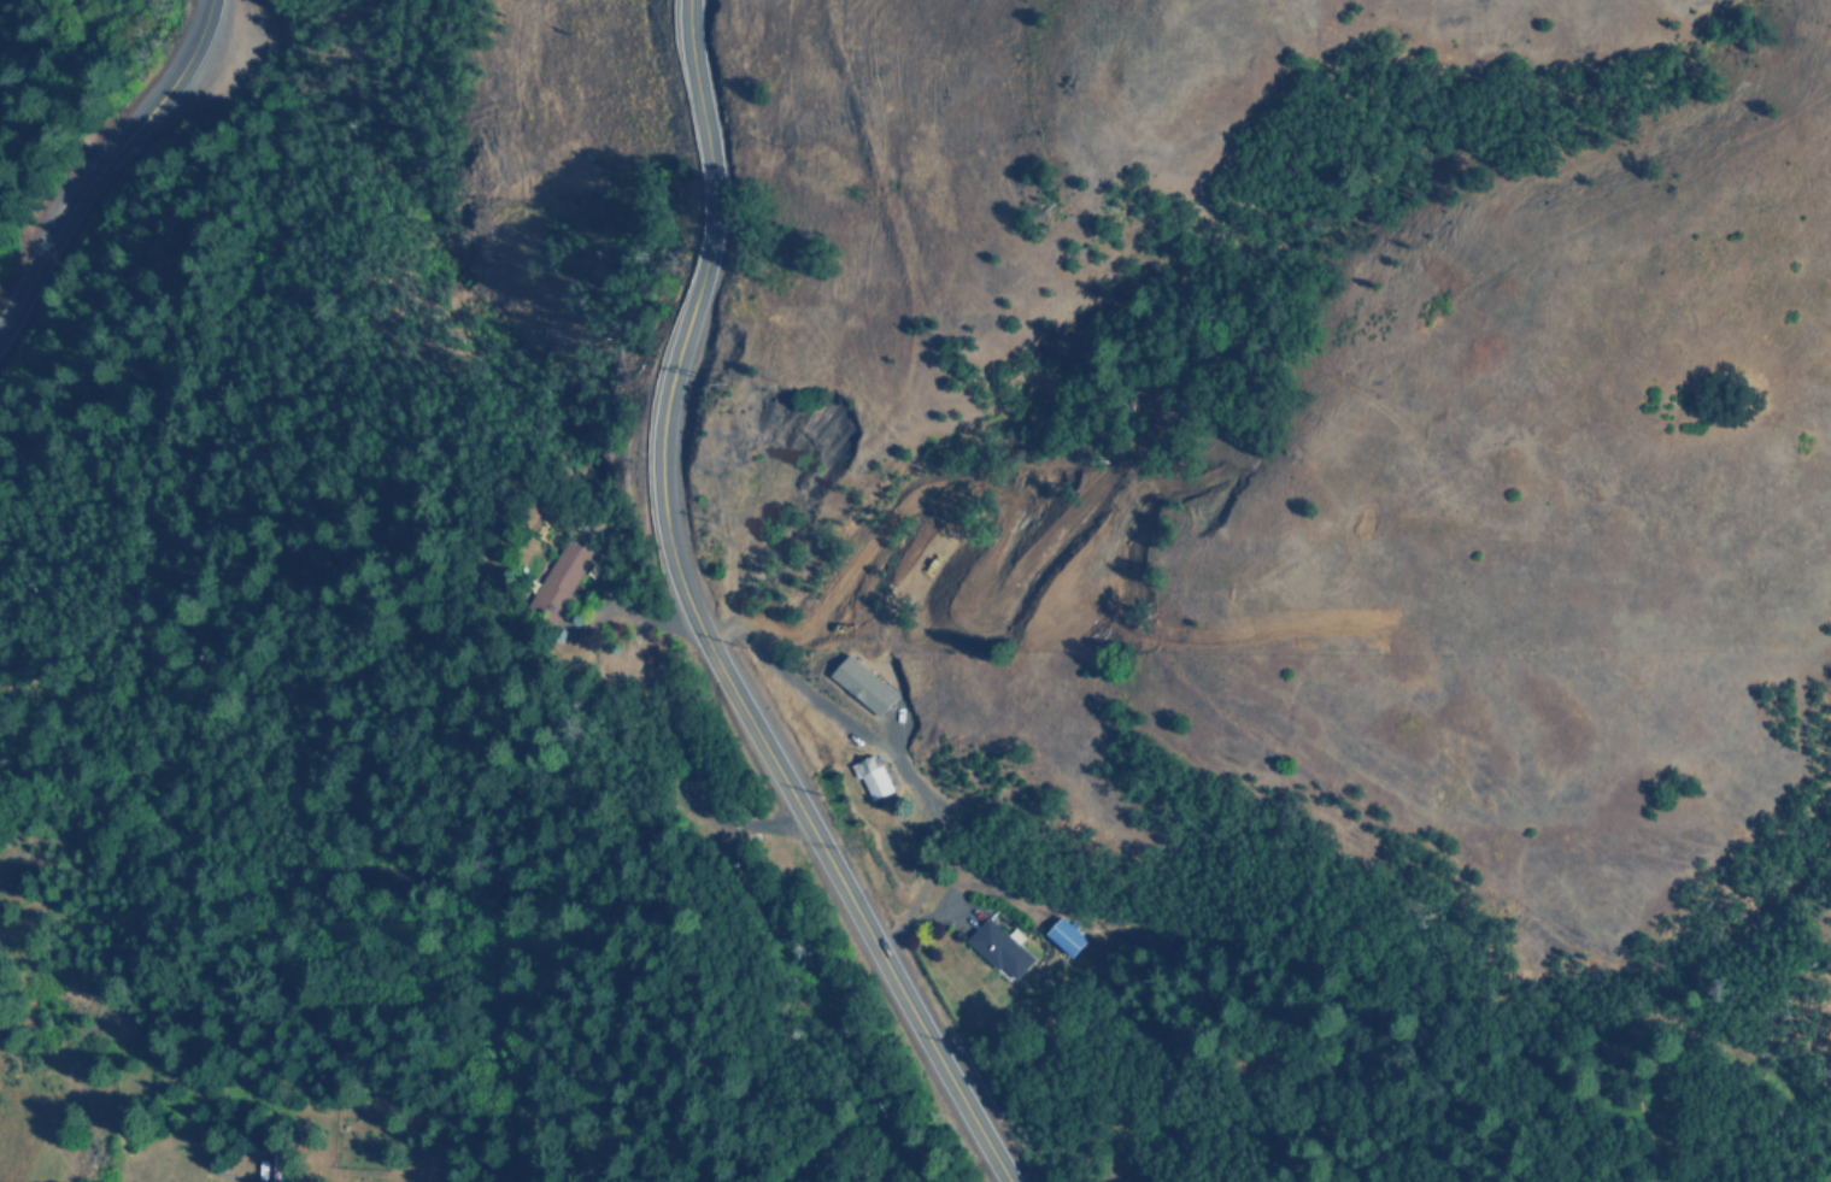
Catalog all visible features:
road: (106, 164)
building: (558, 581)
road: (709, 619)
building: (864, 684)
building: (872, 776)
building: (1062, 935)
building: (993, 948)

